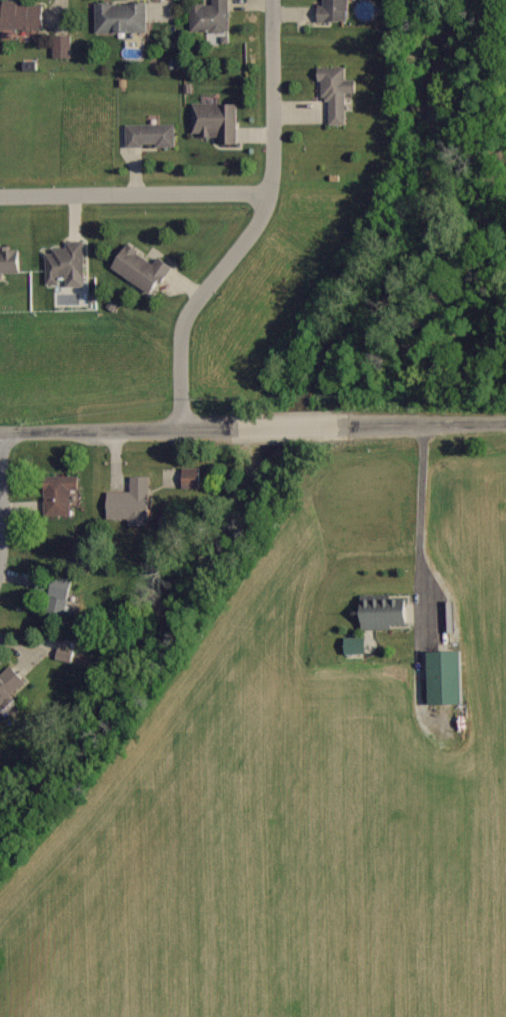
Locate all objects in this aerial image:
building: (365, 10)
building: (335, 11)
building: (22, 16)
building: (122, 18)
building: (214, 19)
building: (63, 47)
building: (338, 95)
building: (218, 122)
building: (153, 136)
road: (134, 194)
road: (256, 224)
building: (11, 261)
building: (68, 266)
building: (145, 269)
road: (252, 428)
building: (194, 479)
building: (62, 495)
road: (4, 501)
building: (133, 503)
road: (417, 577)
building: (44, 589)
building: (386, 614)
building: (65, 654)
building: (447, 679)
building: (10, 687)

